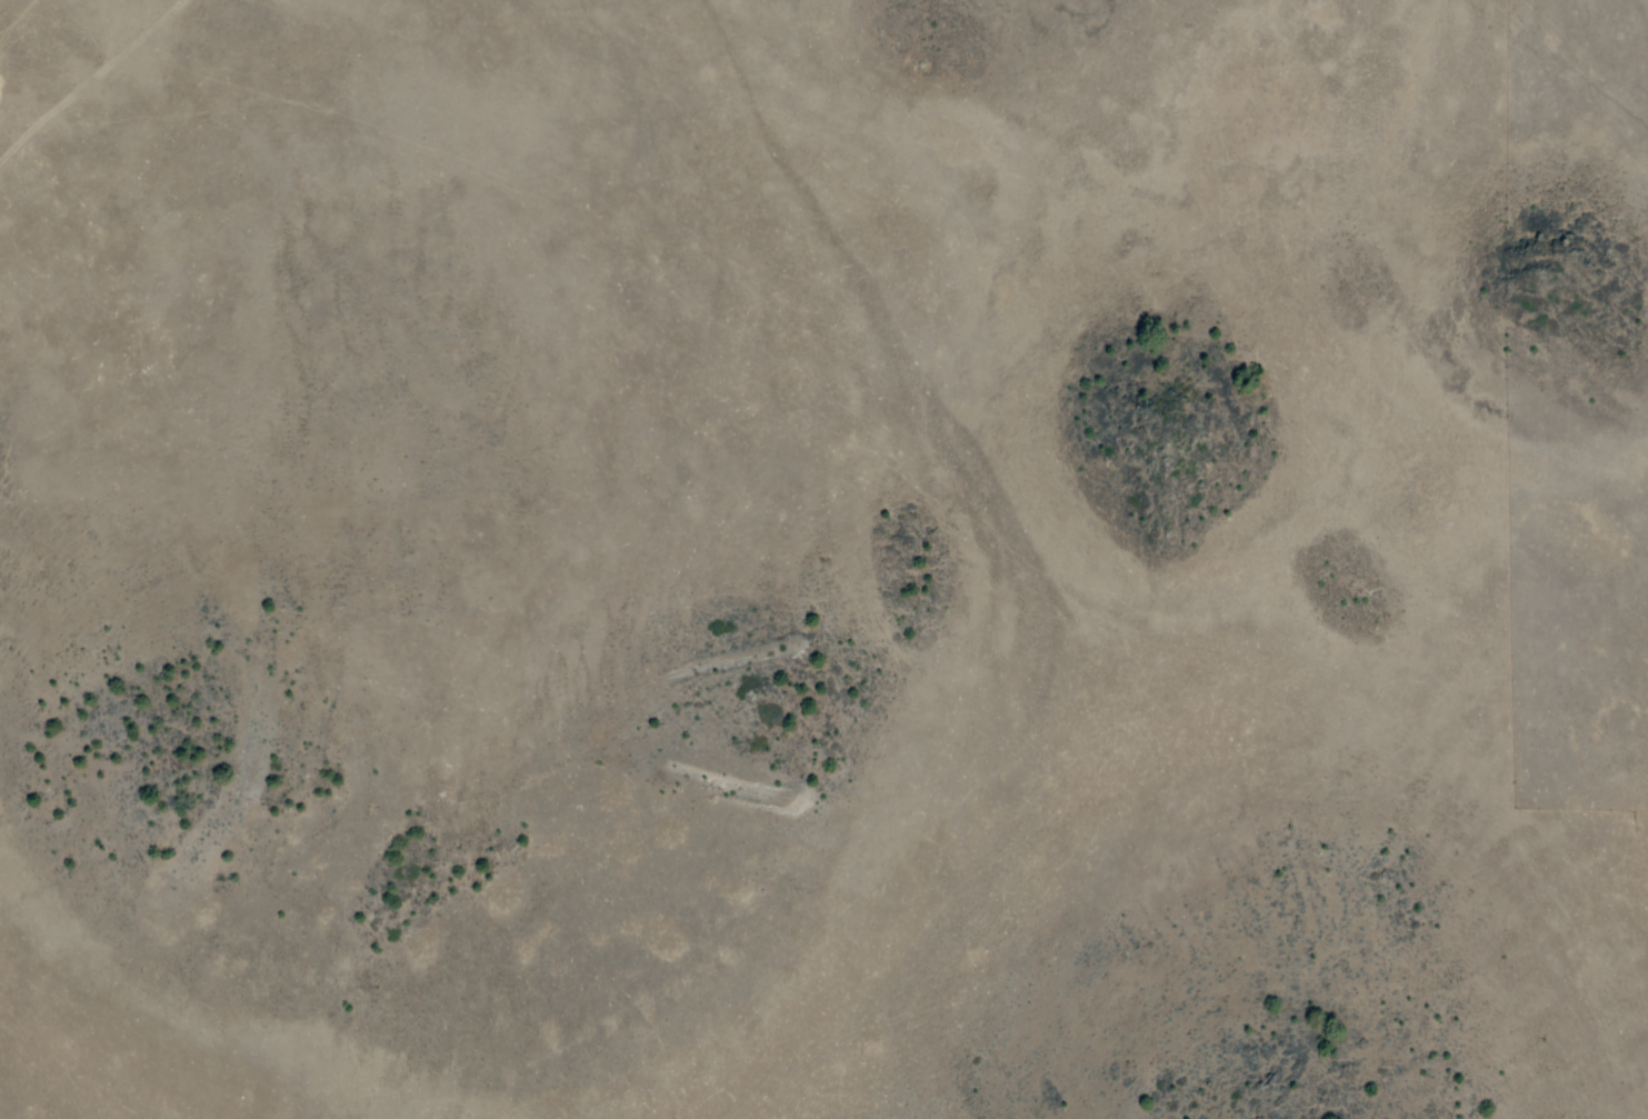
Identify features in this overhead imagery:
road: (86, 77)

